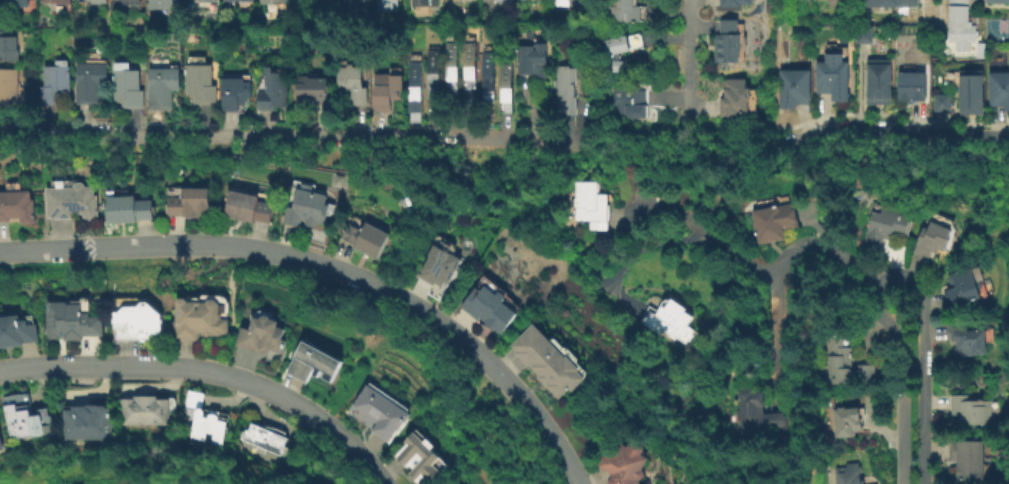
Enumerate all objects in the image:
building: (206, 0)
building: (237, 0)
building: (504, 0)
building: (827, 0)
building: (94, 1)
building: (272, 1)
building: (834, 1)
building: (58, 2)
building: (125, 2)
building: (425, 2)
building: (564, 2)
building: (15, 3)
building: (734, 3)
building: (889, 3)
building: (997, 3)
building: (159, 4)
building: (386, 4)
building: (353, 5)
building: (625, 10)
building: (962, 25)
building: (863, 34)
building: (728, 43)
building: (744, 43)
building: (616, 45)
building: (8, 47)
building: (198, 61)
building: (533, 62)
building: (471, 66)
building: (119, 67)
building: (619, 67)
building: (451, 69)
road: (683, 70)
building: (489, 78)
building: (432, 80)
building: (830, 80)
building: (878, 80)
building: (88, 82)
building: (53, 84)
building: (198, 85)
building: (350, 85)
building: (506, 86)
building: (161, 88)
building: (126, 89)
building: (271, 89)
building: (308, 89)
building: (567, 89)
building: (9, 90)
building: (908, 90)
building: (970, 91)
building: (234, 92)
building: (790, 92)
building: (998, 92)
building: (385, 93)
building: (416, 94)
building: (734, 97)
building: (633, 101)
building: (941, 101)
road: (892, 127)
road: (269, 136)
building: (72, 202)
building: (192, 203)
building: (597, 205)
building: (16, 206)
building: (309, 206)
building: (248, 207)
building: (130, 208)
building: (941, 220)
building: (779, 221)
building: (885, 227)
building: (931, 238)
building: (370, 239)
building: (445, 263)
road: (329, 269)
road: (776, 270)
building: (965, 286)
building: (494, 307)
building: (202, 318)
building: (68, 319)
building: (135, 319)
building: (673, 319)
building: (16, 332)
road: (772, 332)
building: (264, 334)
building: (964, 339)
building: (552, 361)
road: (924, 361)
building: (847, 363)
building: (314, 364)
road: (209, 372)
road: (903, 380)
building: (758, 409)
building: (145, 410)
building: (970, 410)
building: (382, 411)
building: (23, 417)
building: (854, 418)
building: (204, 419)
building: (87, 420)
building: (264, 439)
building: (1, 444)
building: (424, 457)
building: (967, 458)
building: (629, 462)
building: (854, 473)

